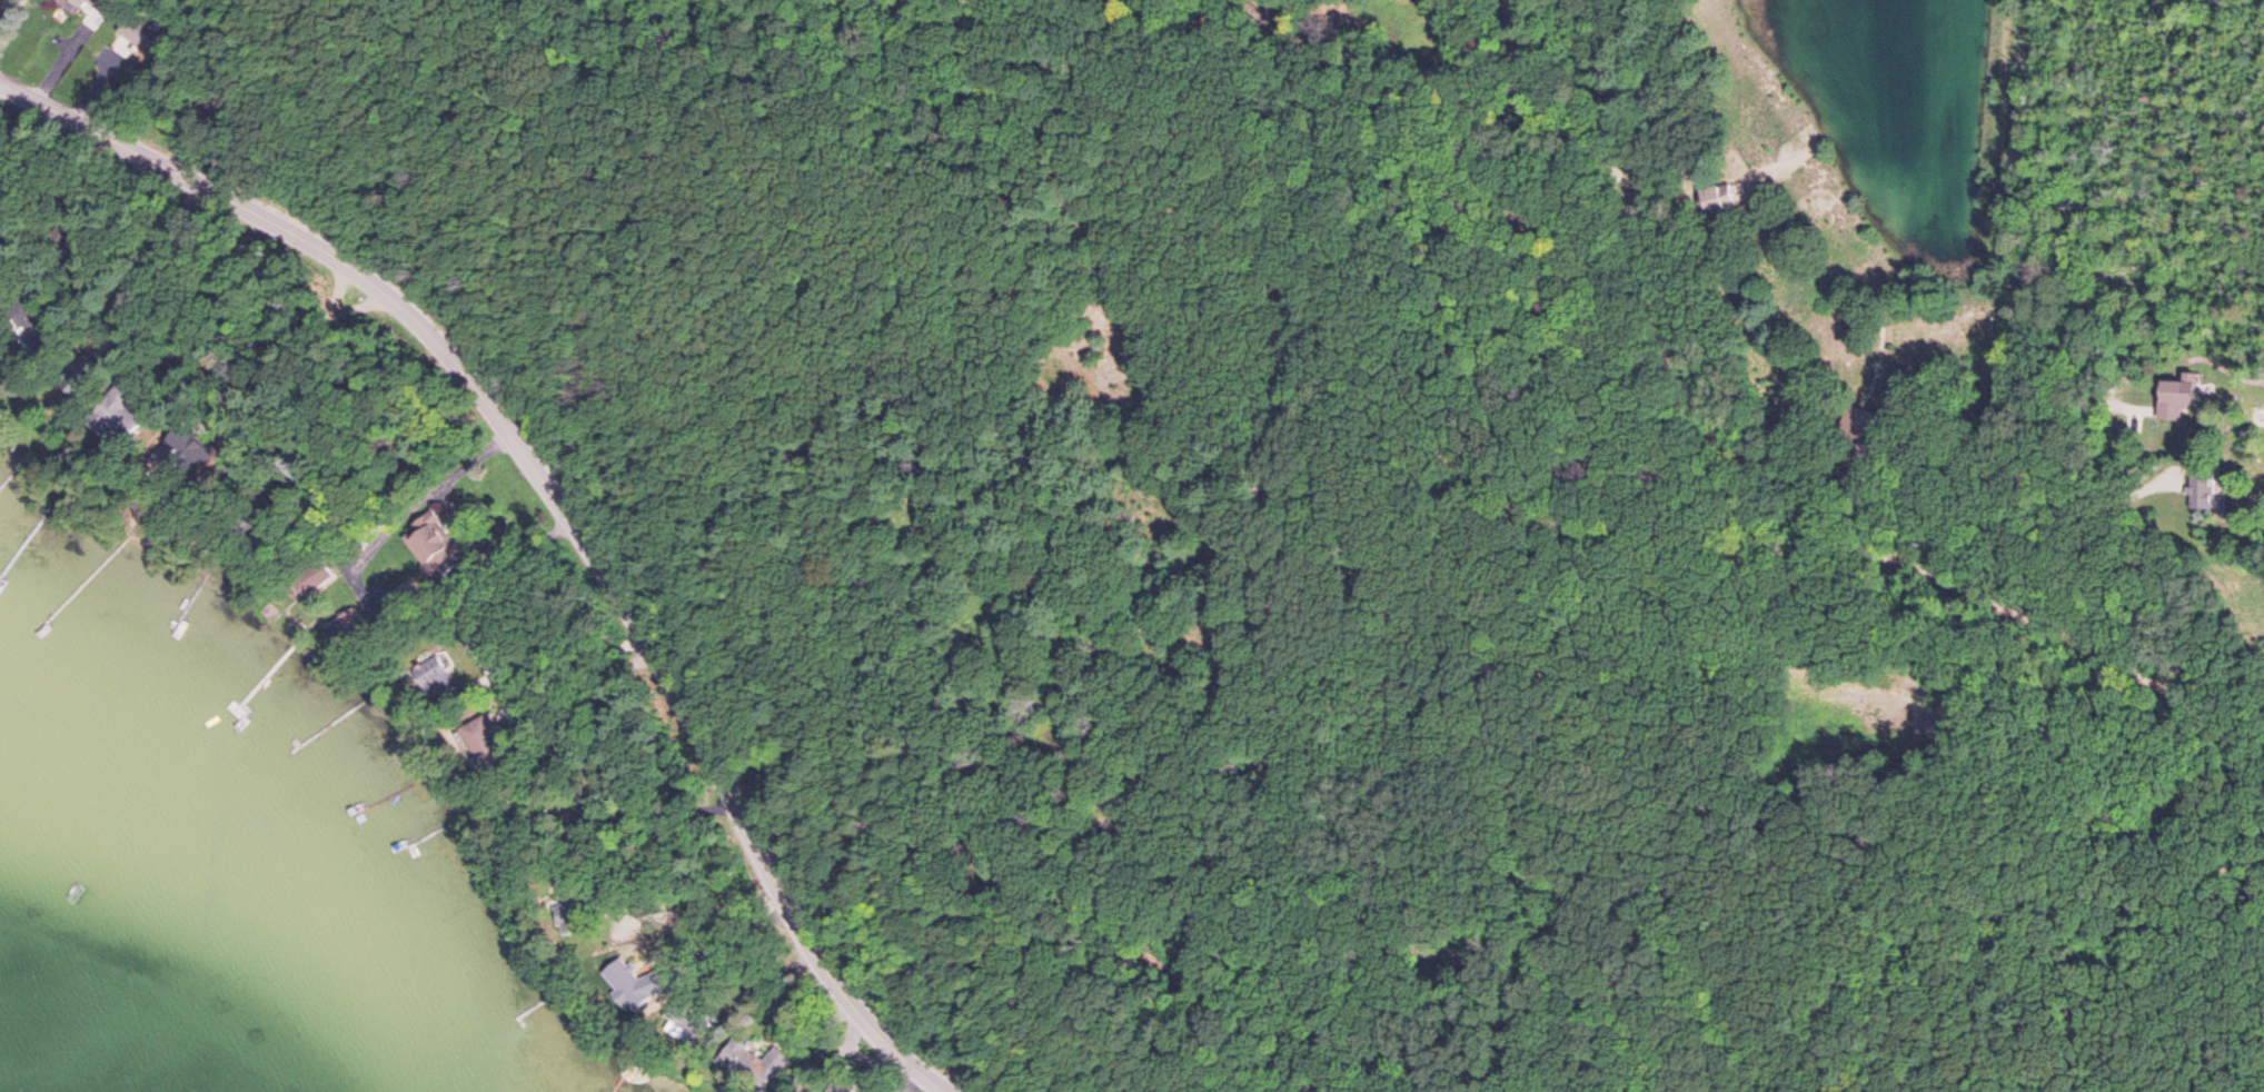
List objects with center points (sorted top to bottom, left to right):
building: (92, 4)
building: (145, 40)
building: (1718, 201)
building: (2179, 395)
road: (1761, 479)
building: (2210, 493)
road: (423, 499)
road: (557, 500)
building: (431, 553)
road: (645, 802)
road: (584, 814)
building: (777, 1065)

